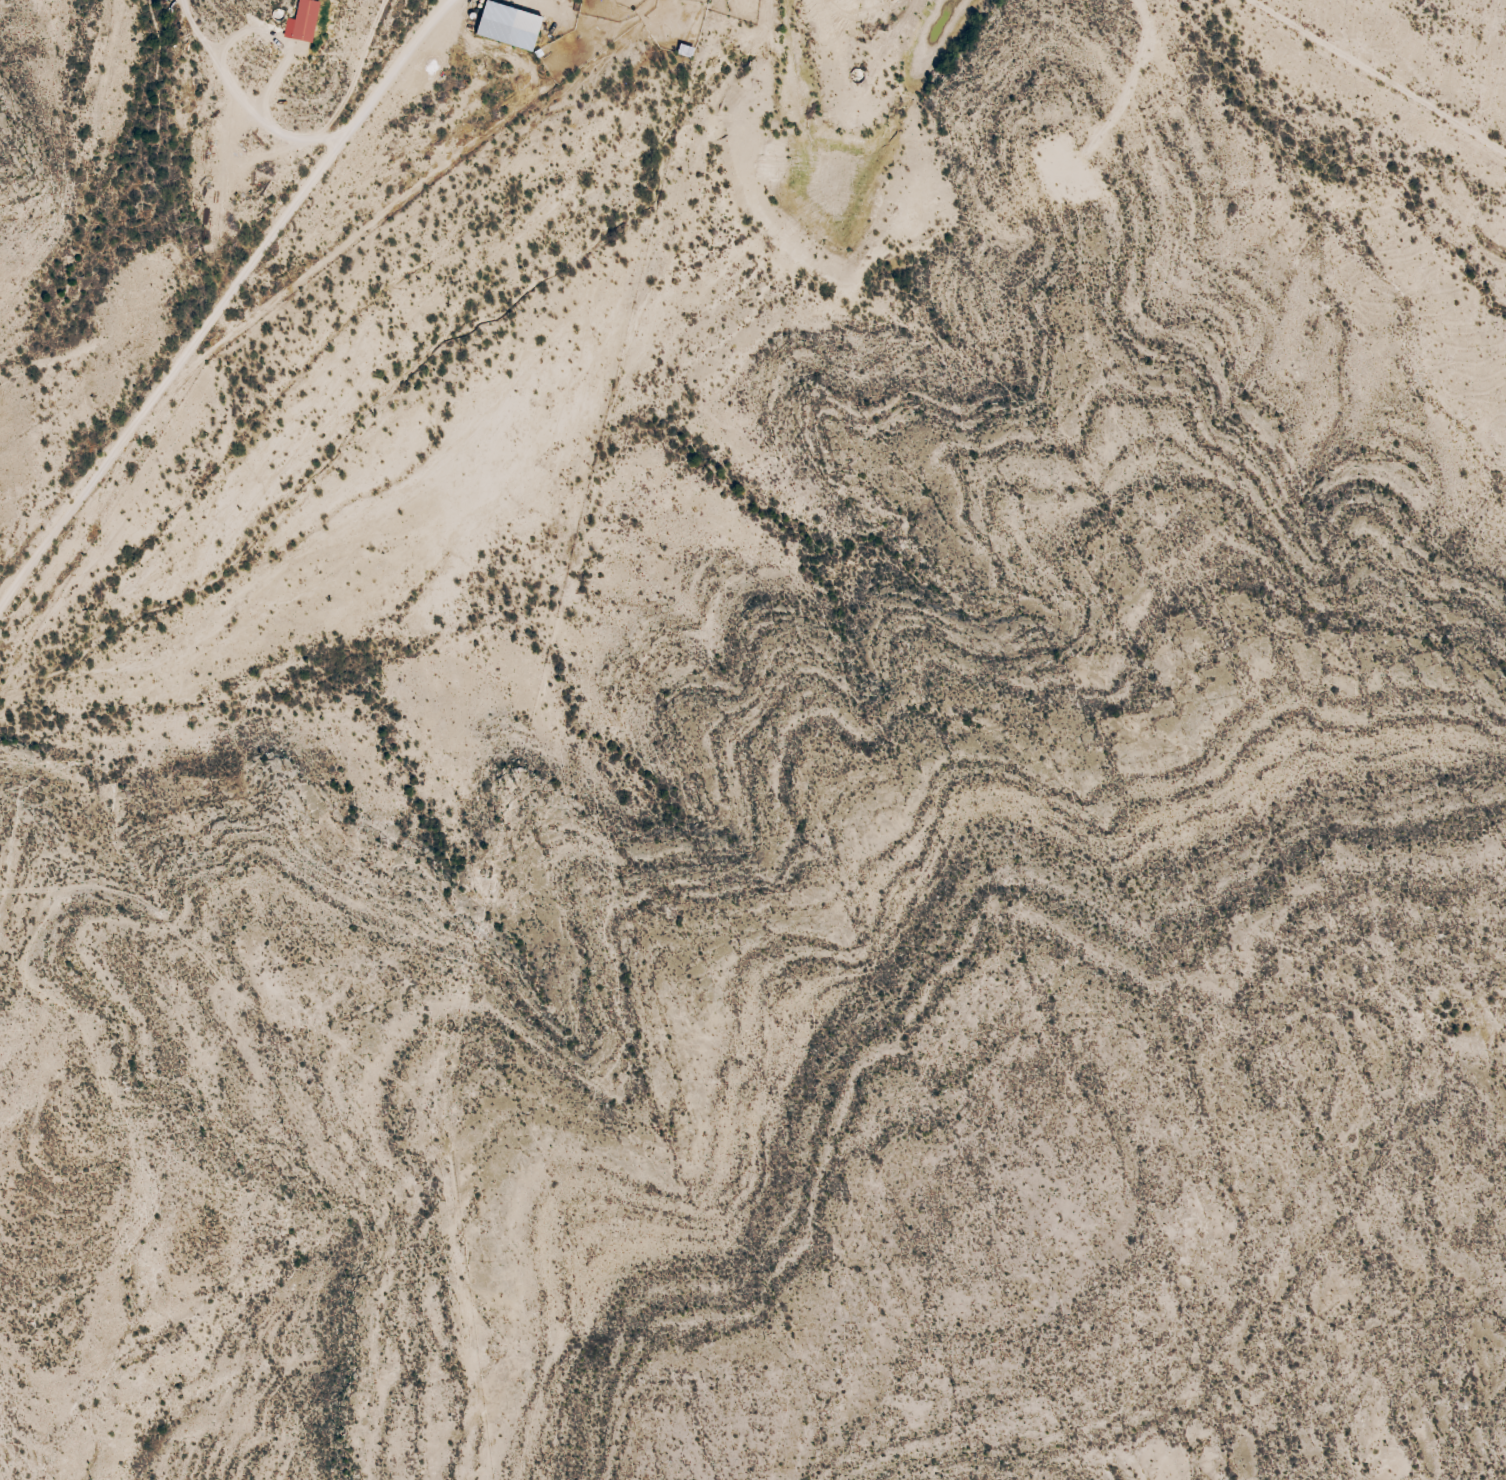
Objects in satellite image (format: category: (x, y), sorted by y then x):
building: (508, 26)
road: (1385, 54)
road: (208, 295)

